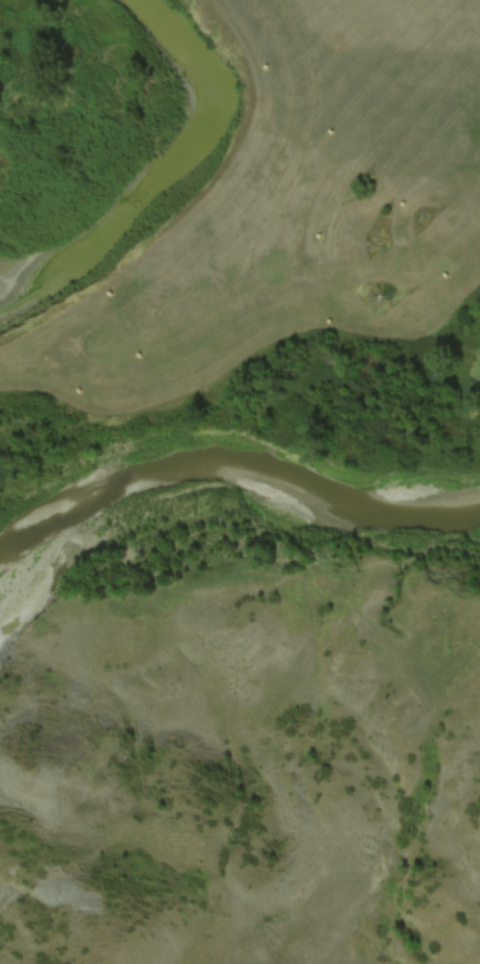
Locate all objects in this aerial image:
river: (161, 163)
river: (228, 468)

